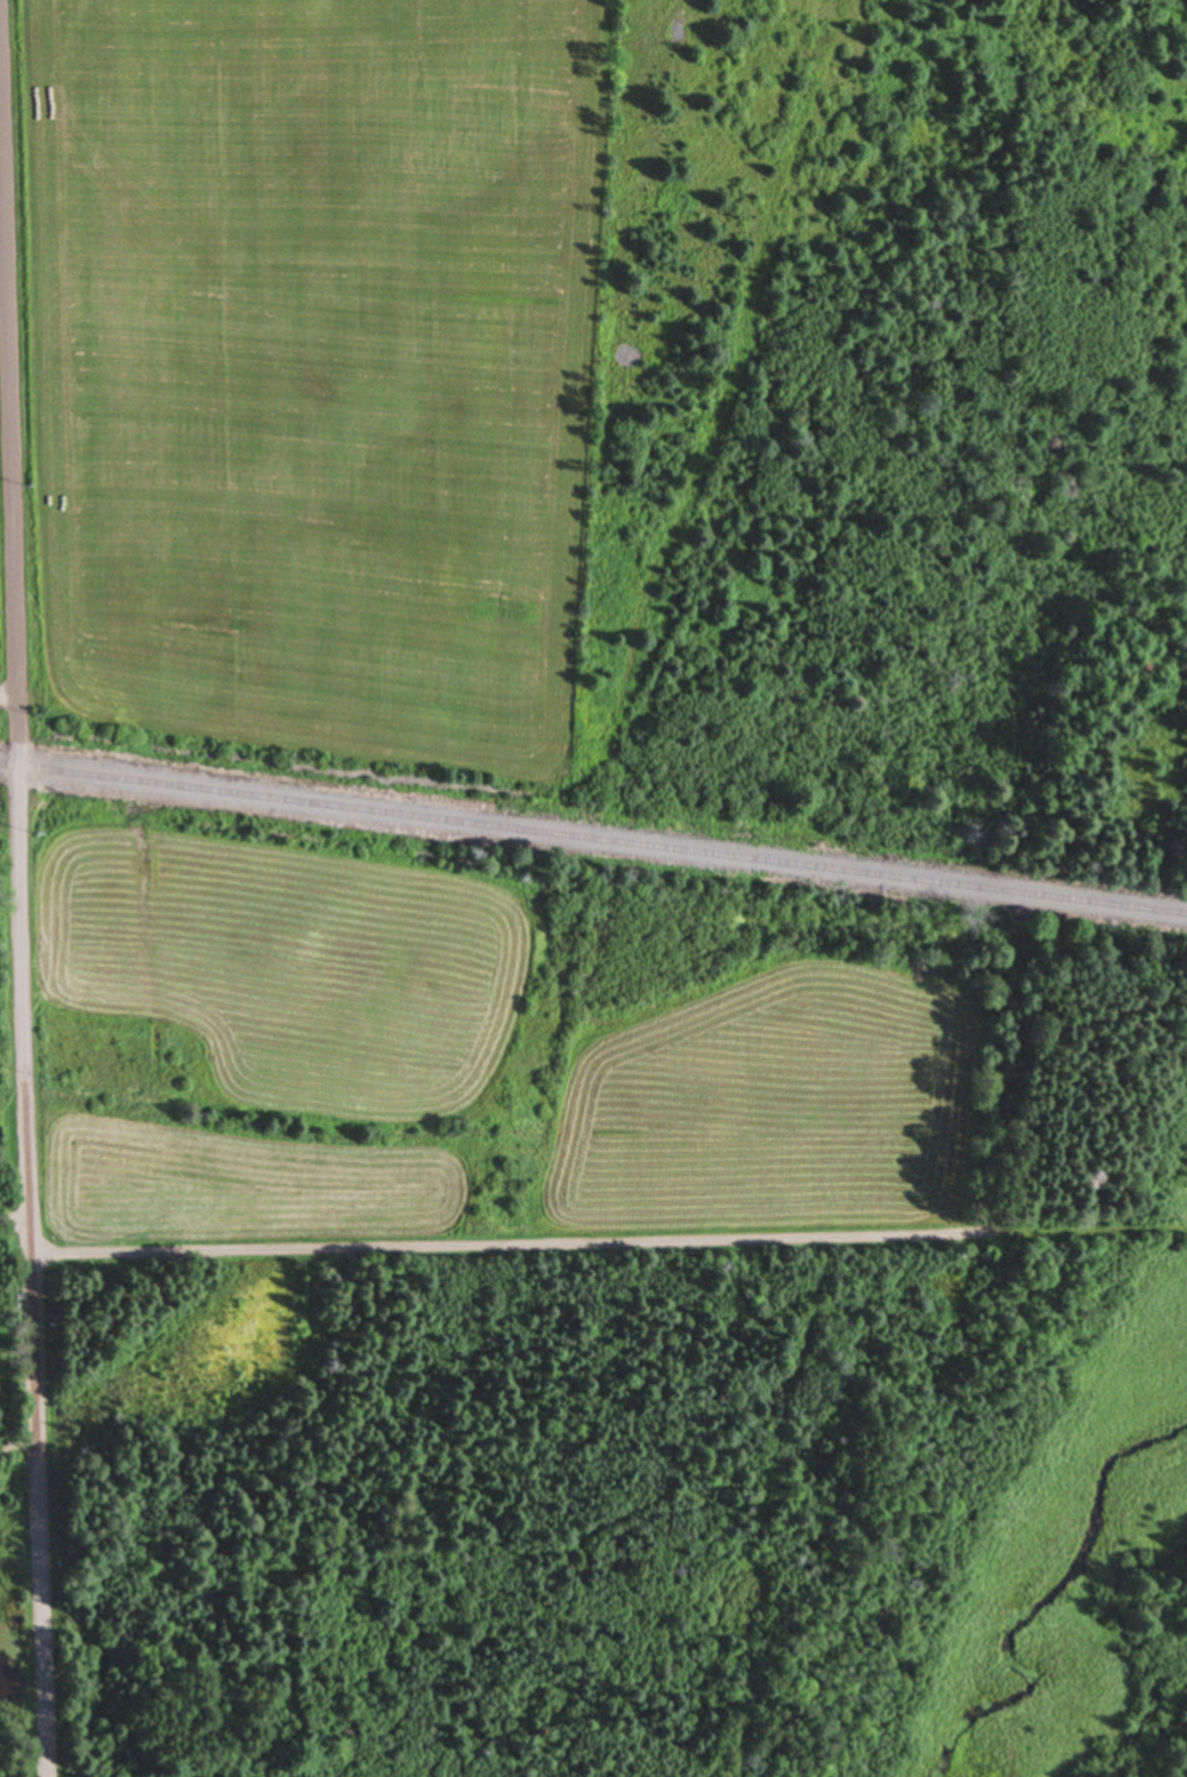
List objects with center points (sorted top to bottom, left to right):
airport: (1, 364)
park: (4, 592)
road: (8, 700)
railway: (593, 839)
road: (22, 902)
road: (508, 1245)

